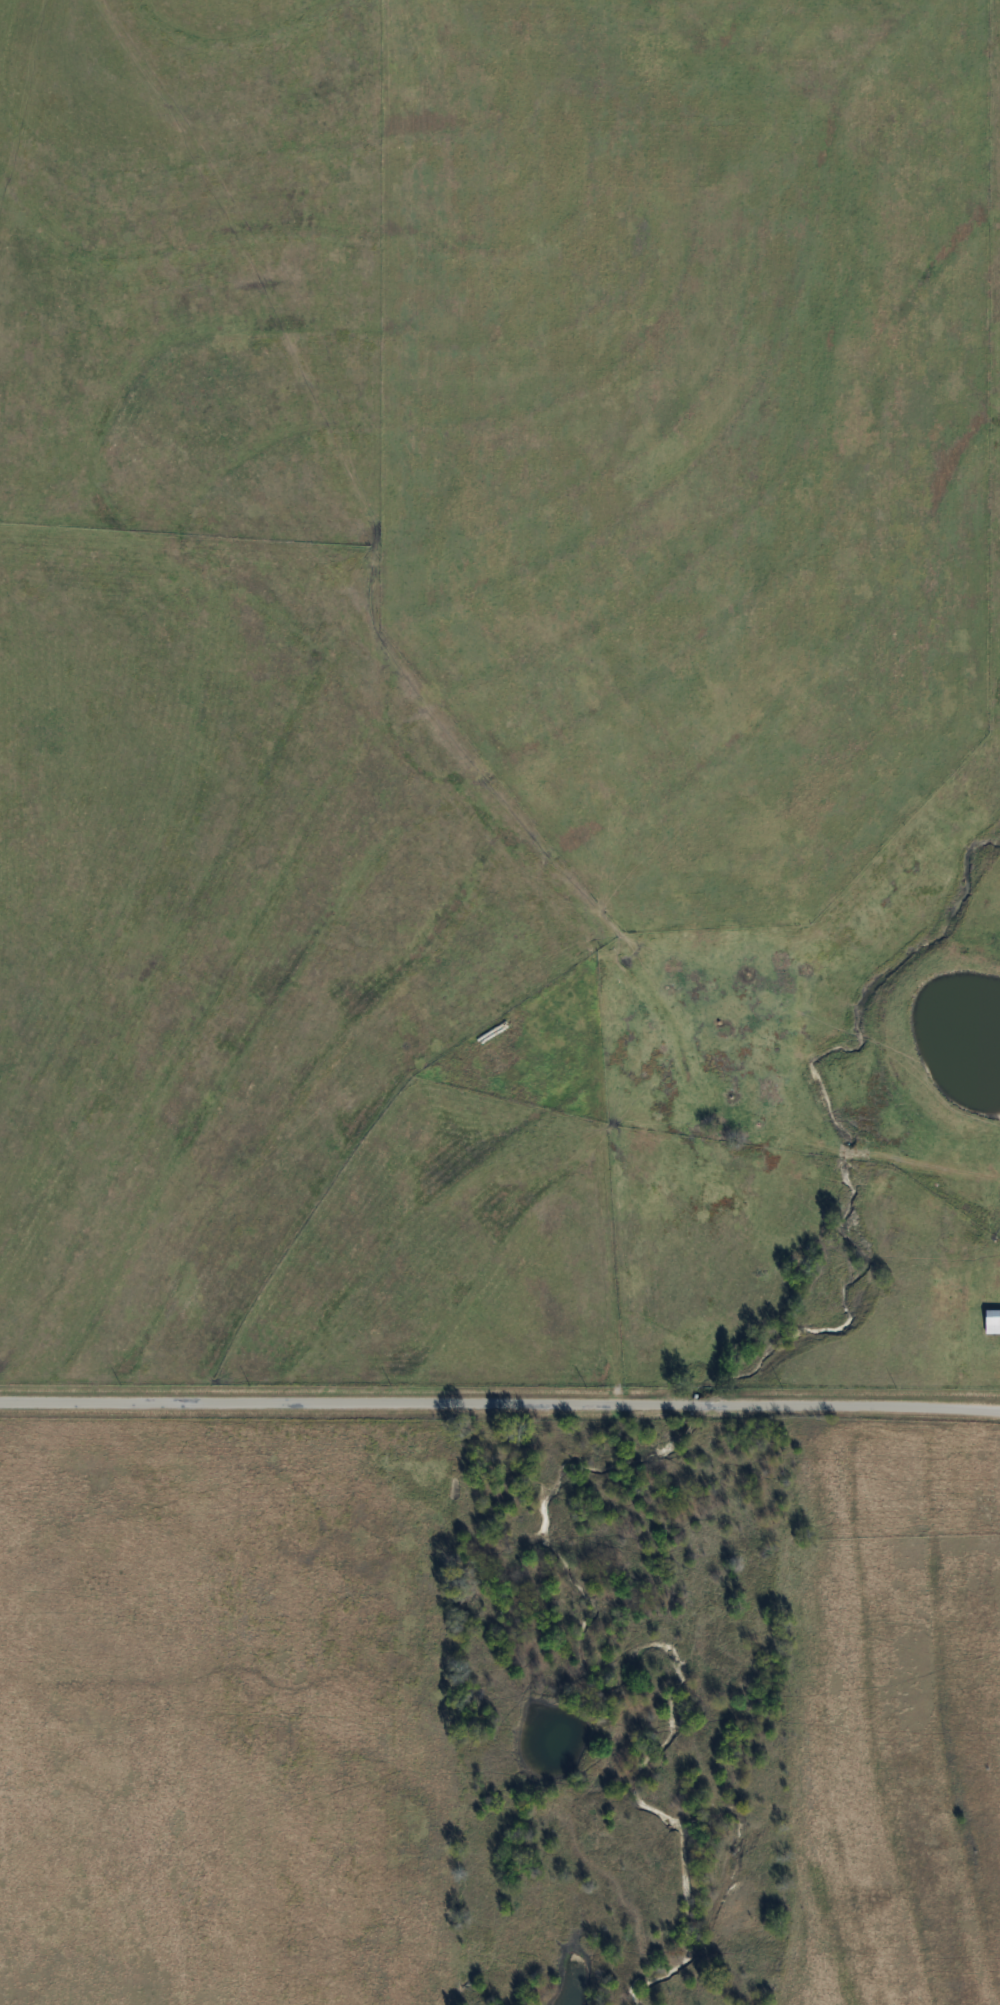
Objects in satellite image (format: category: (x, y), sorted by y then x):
building: (992, 1322)
road: (500, 1404)

